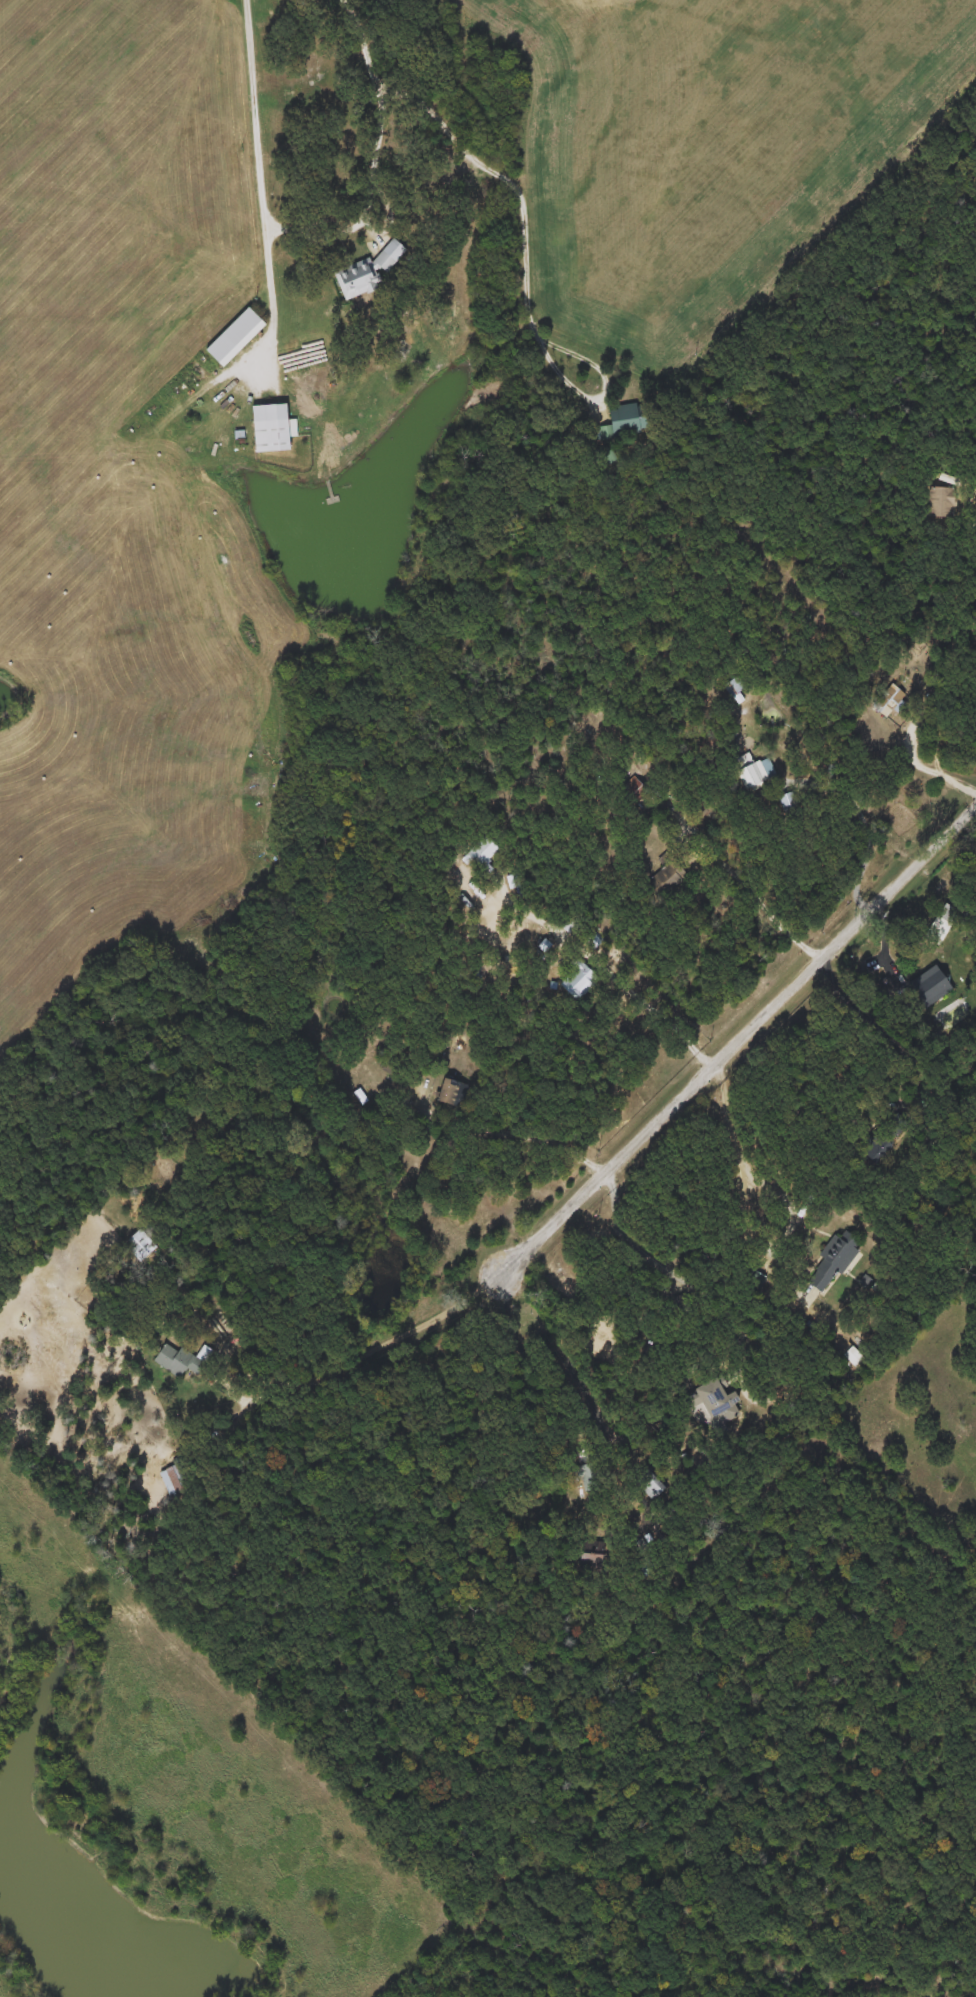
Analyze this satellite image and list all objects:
road: (397, 79)
road: (263, 139)
road: (529, 268)
building: (370, 270)
building: (238, 336)
building: (619, 423)
building: (273, 427)
building: (605, 457)
building: (939, 503)
building: (735, 686)
building: (889, 701)
road: (932, 767)
building: (753, 770)
building: (633, 791)
building: (788, 804)
road: (859, 805)
building: (479, 852)
building: (665, 879)
road: (741, 880)
building: (578, 981)
building: (928, 990)
road: (684, 1036)
building: (448, 1097)
road: (634, 1139)
road: (616, 1204)
building: (137, 1239)
building: (832, 1260)
building: (855, 1356)
building: (178, 1360)
road: (579, 1377)
road: (226, 1386)
road: (204, 1438)
building: (584, 1455)
building: (590, 1477)
building: (175, 1481)

